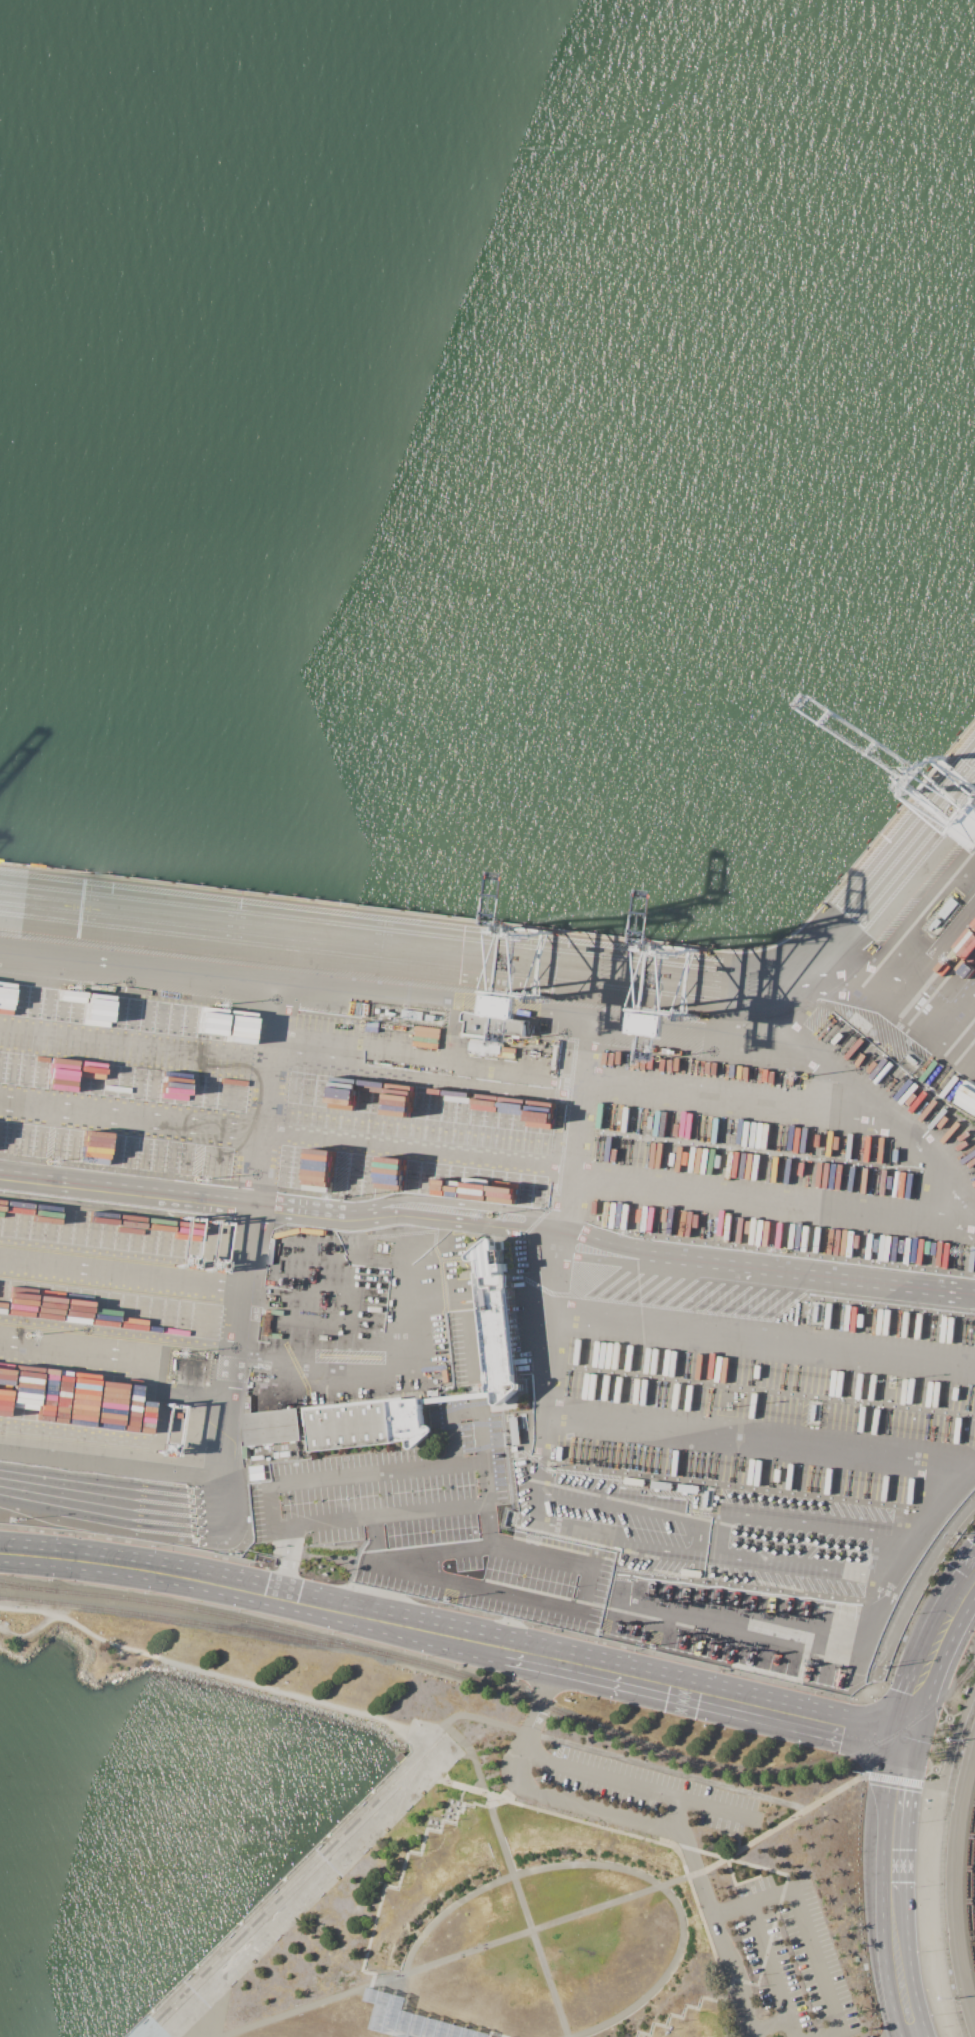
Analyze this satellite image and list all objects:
road: (879, 922)
road: (918, 990)
road: (960, 1000)
road: (519, 1005)
building: (493, 1026)
road: (488, 1219)
road: (127, 1271)
building: (495, 1321)
road: (759, 1338)
road: (540, 1369)
road: (242, 1385)
building: (367, 1425)
building: (273, 1427)
road: (754, 1439)
road: (116, 1453)
road: (461, 1467)
road: (932, 1506)
road: (714, 1534)
road: (286, 1564)
road: (281, 1597)
road: (546, 1603)
railway: (193, 1624)
road: (949, 1624)
road: (28, 1633)
road: (831, 1651)
railway: (505, 1690)
road: (731, 1704)
road: (916, 1706)
road: (536, 1717)
road: (382, 1718)
traffic signals: (906, 1744)
road: (952, 1746)
road: (620, 1758)
road: (892, 1779)
road: (635, 1787)
road: (900, 1787)
road: (491, 1804)
road: (592, 1808)
road: (677, 1816)
street lamp: (919, 1822)
road: (638, 1836)
park: (521, 1863)
road: (615, 1868)
road: (705, 1870)
road: (398, 1880)
railway: (969, 1883)
road: (299, 1884)
parking lot: (710, 1886)
street lamp: (917, 1886)
road: (780, 1893)
road: (809, 1931)
road: (716, 1934)
road: (898, 1935)
street lamp: (923, 1951)
road: (768, 1961)
road: (376, 1984)
road: (681, 2014)
street lamp: (937, 2014)
road: (441, 2019)
road: (778, 2021)
road: (428, 2026)

